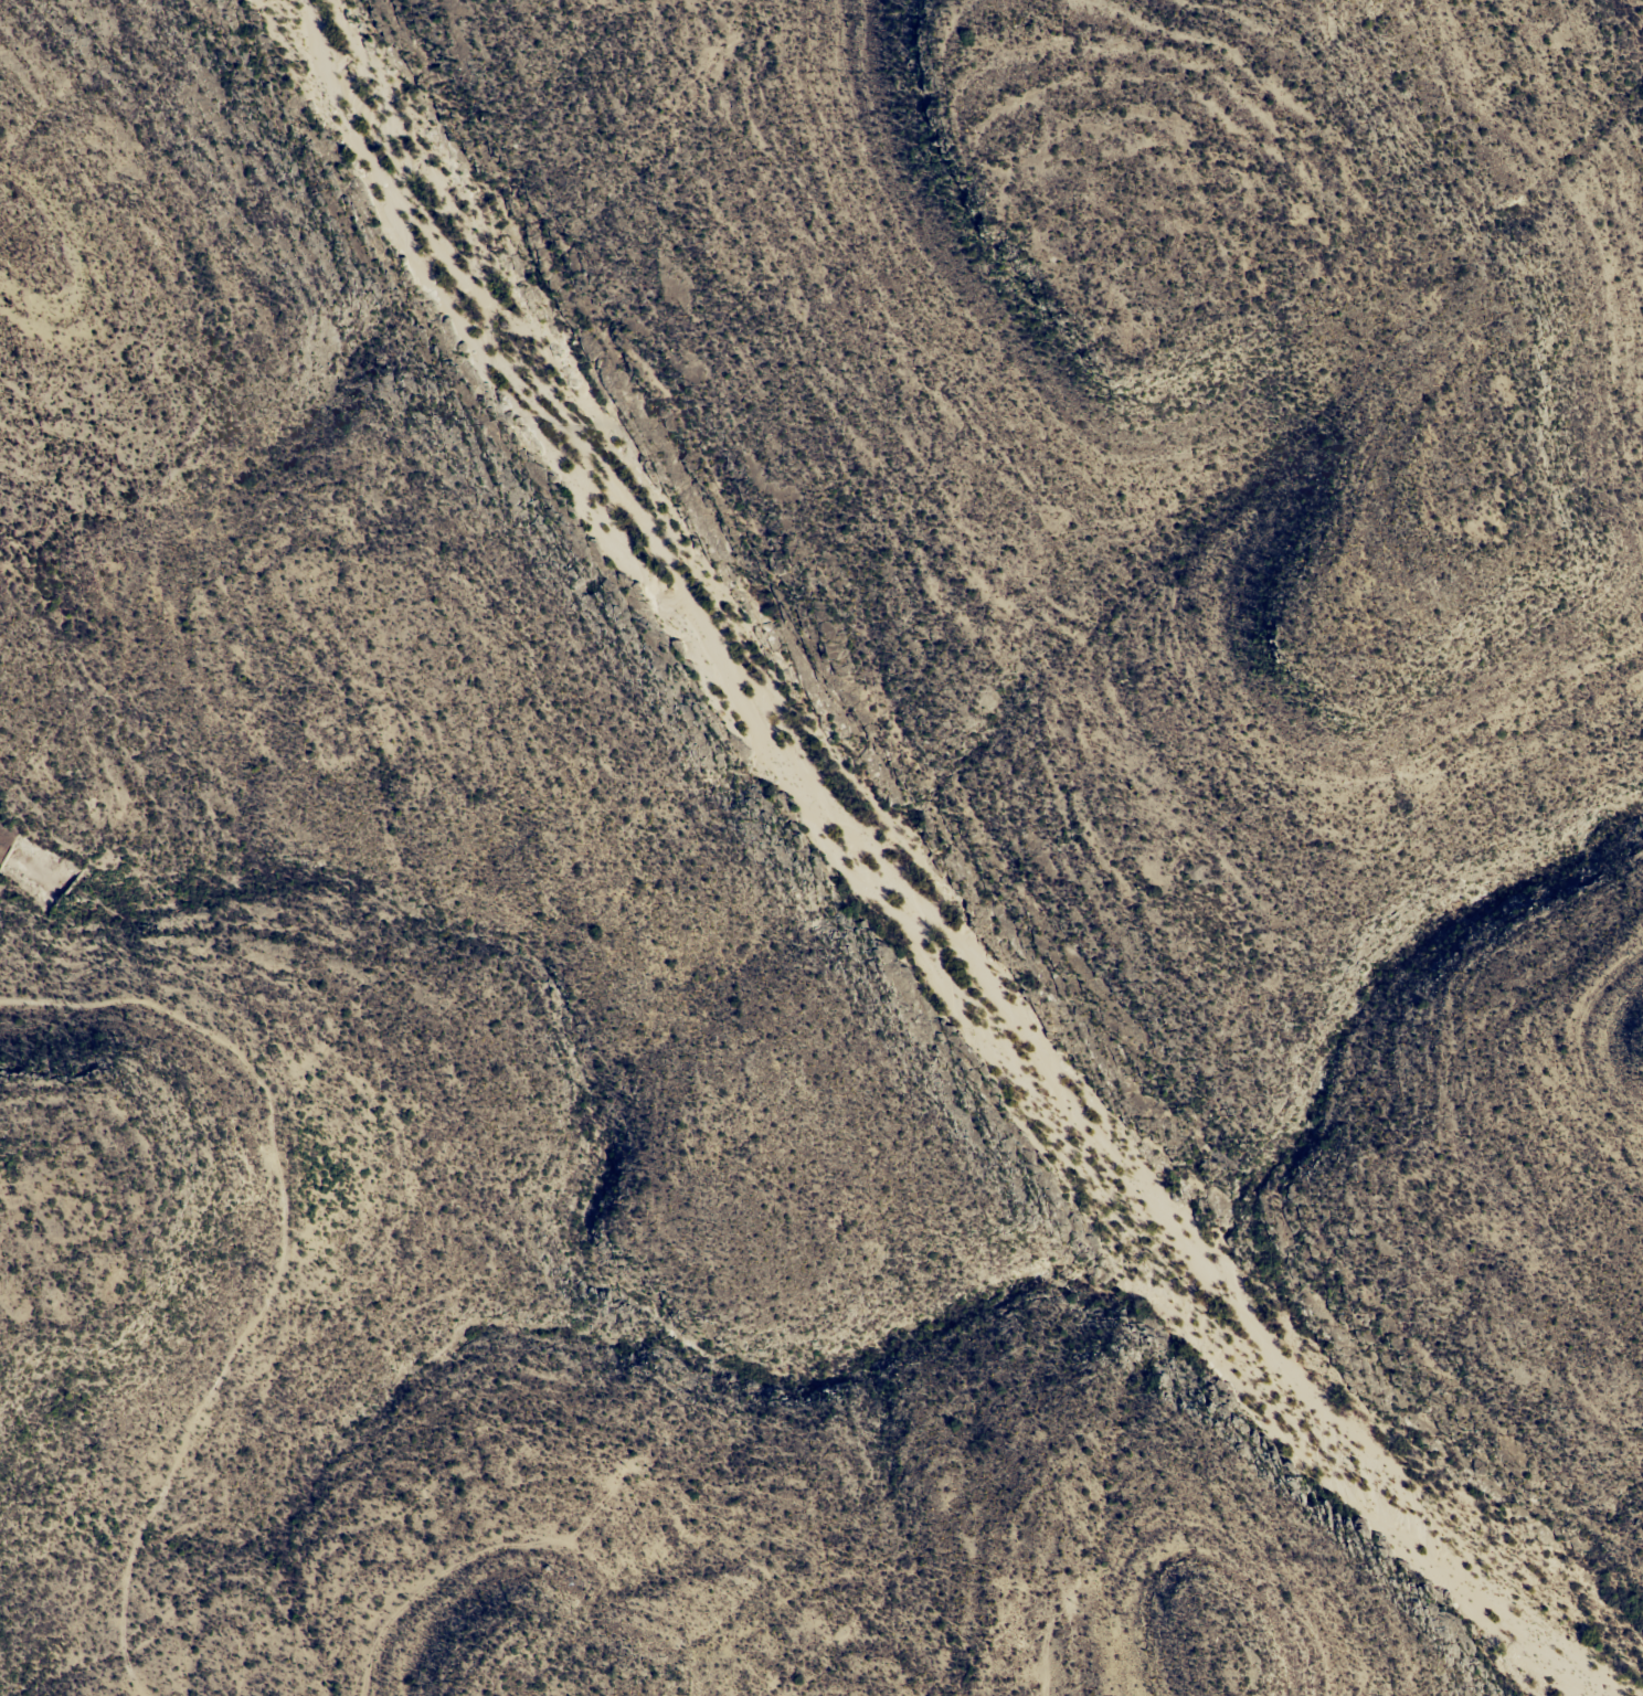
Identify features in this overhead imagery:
road: (258, 1273)

